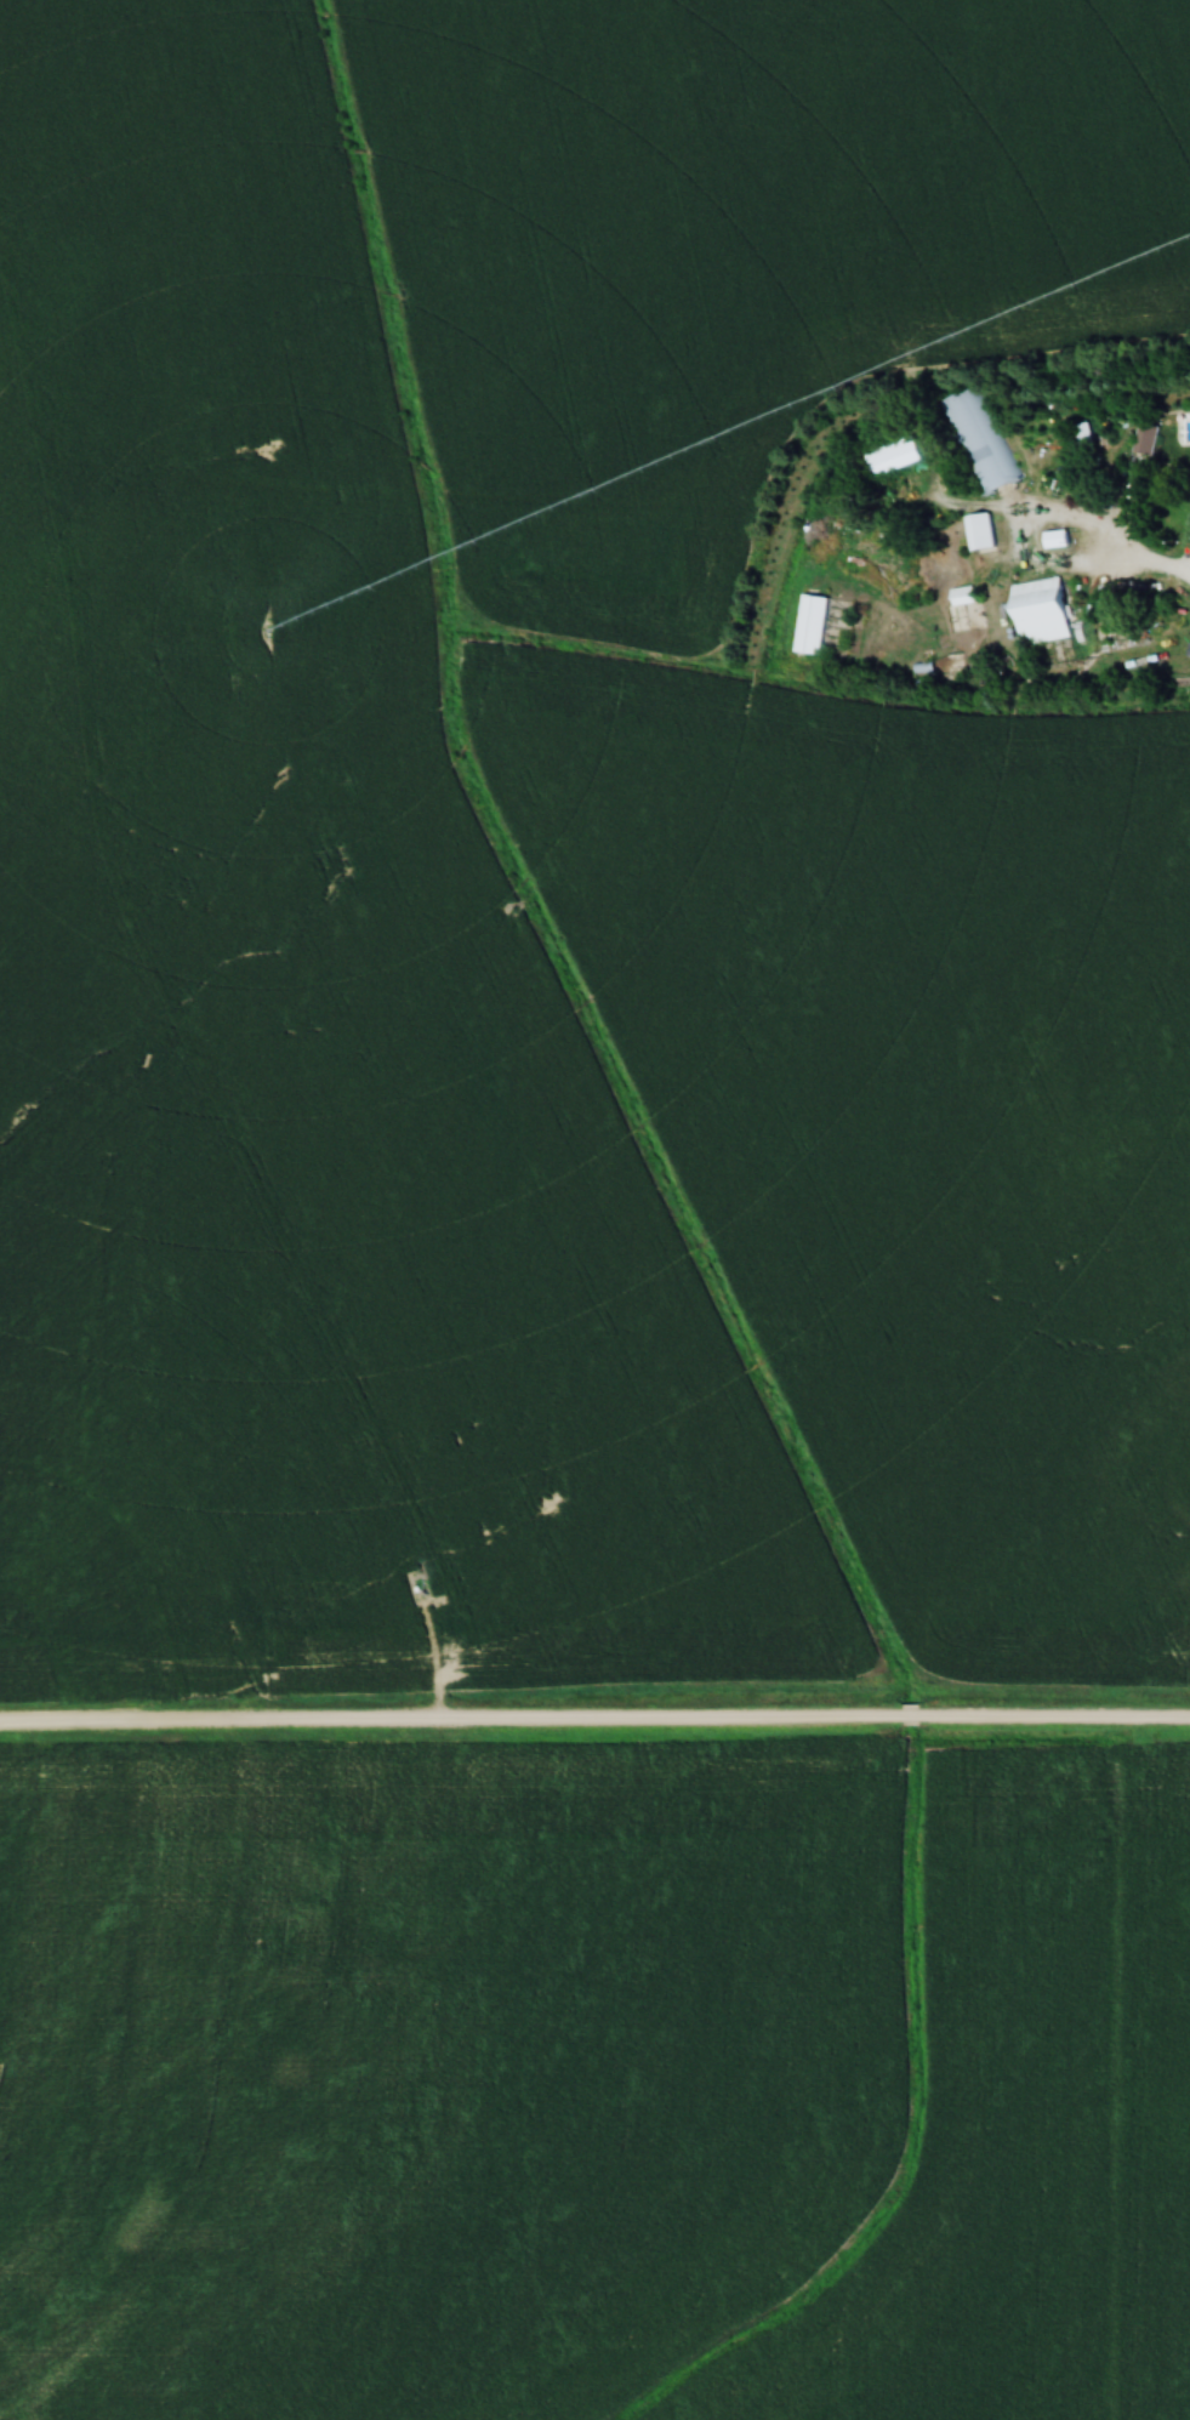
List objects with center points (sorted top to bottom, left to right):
building: (1086, 432)
building: (1145, 435)
building: (980, 438)
building: (898, 452)
building: (983, 529)
building: (1059, 536)
road: (1026, 548)
road: (1139, 562)
building: (962, 592)
building: (1042, 608)
building: (814, 621)
road: (594, 1719)

